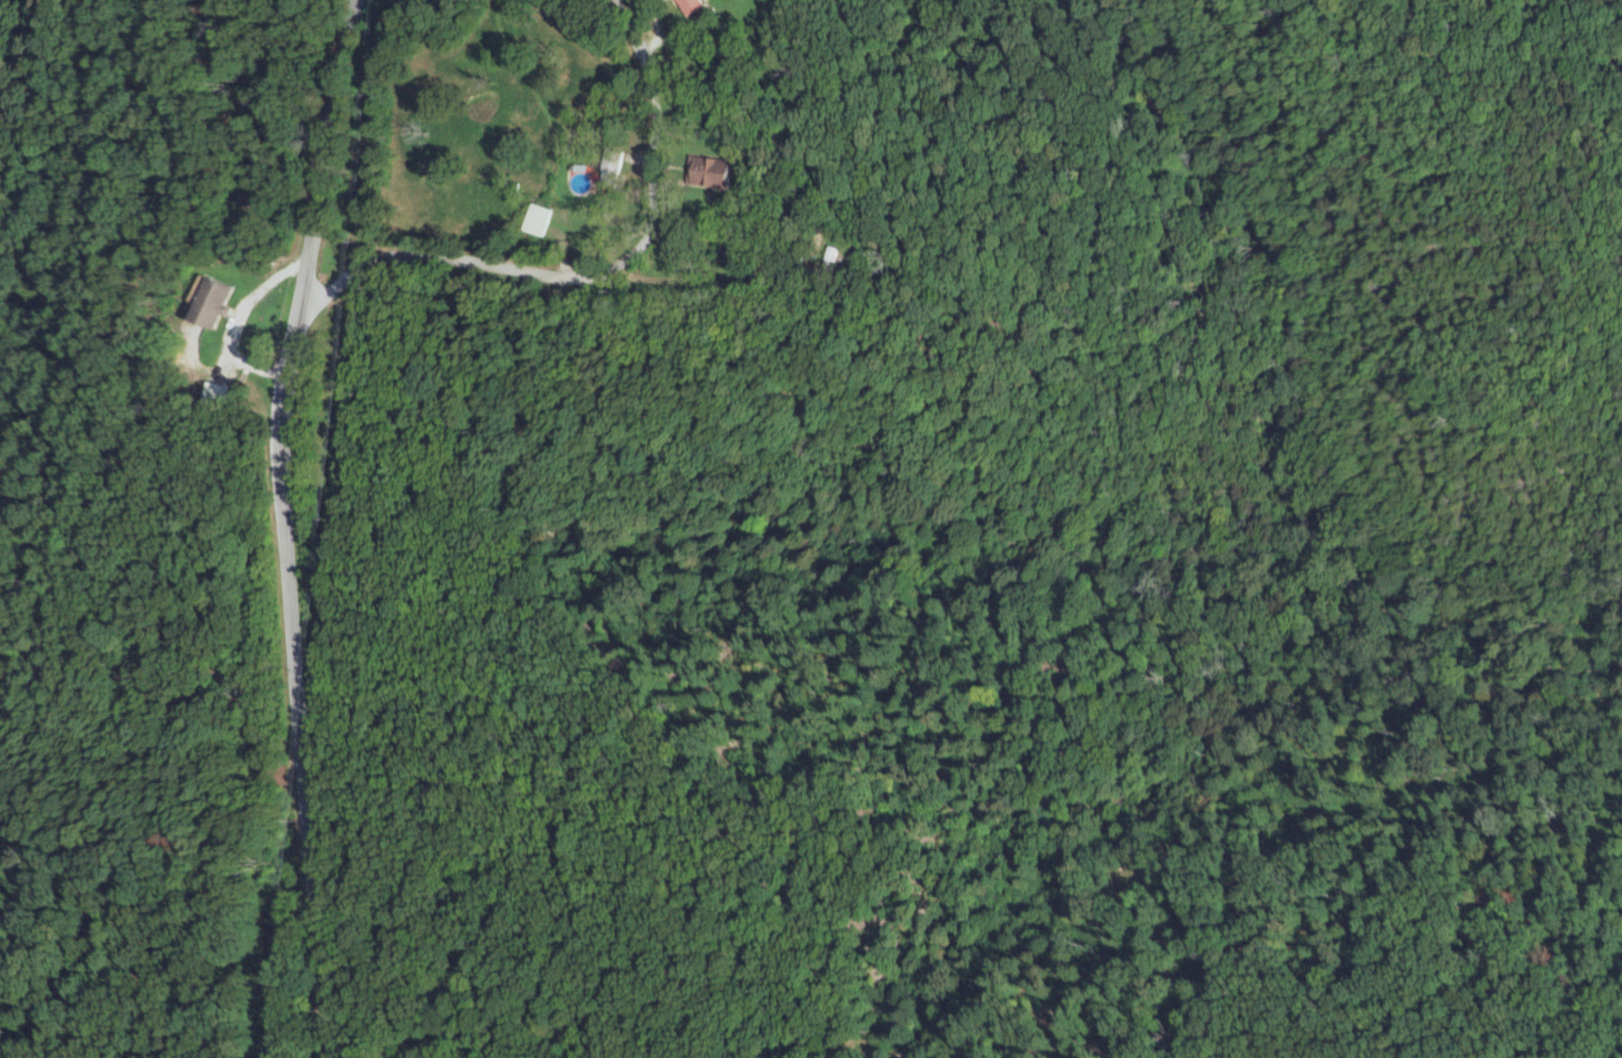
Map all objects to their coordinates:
building: (694, 5)
park: (429, 11)
building: (614, 160)
building: (711, 171)
building: (537, 218)
road: (721, 264)
road: (598, 269)
building: (221, 302)
building: (220, 392)
road: (303, 527)

